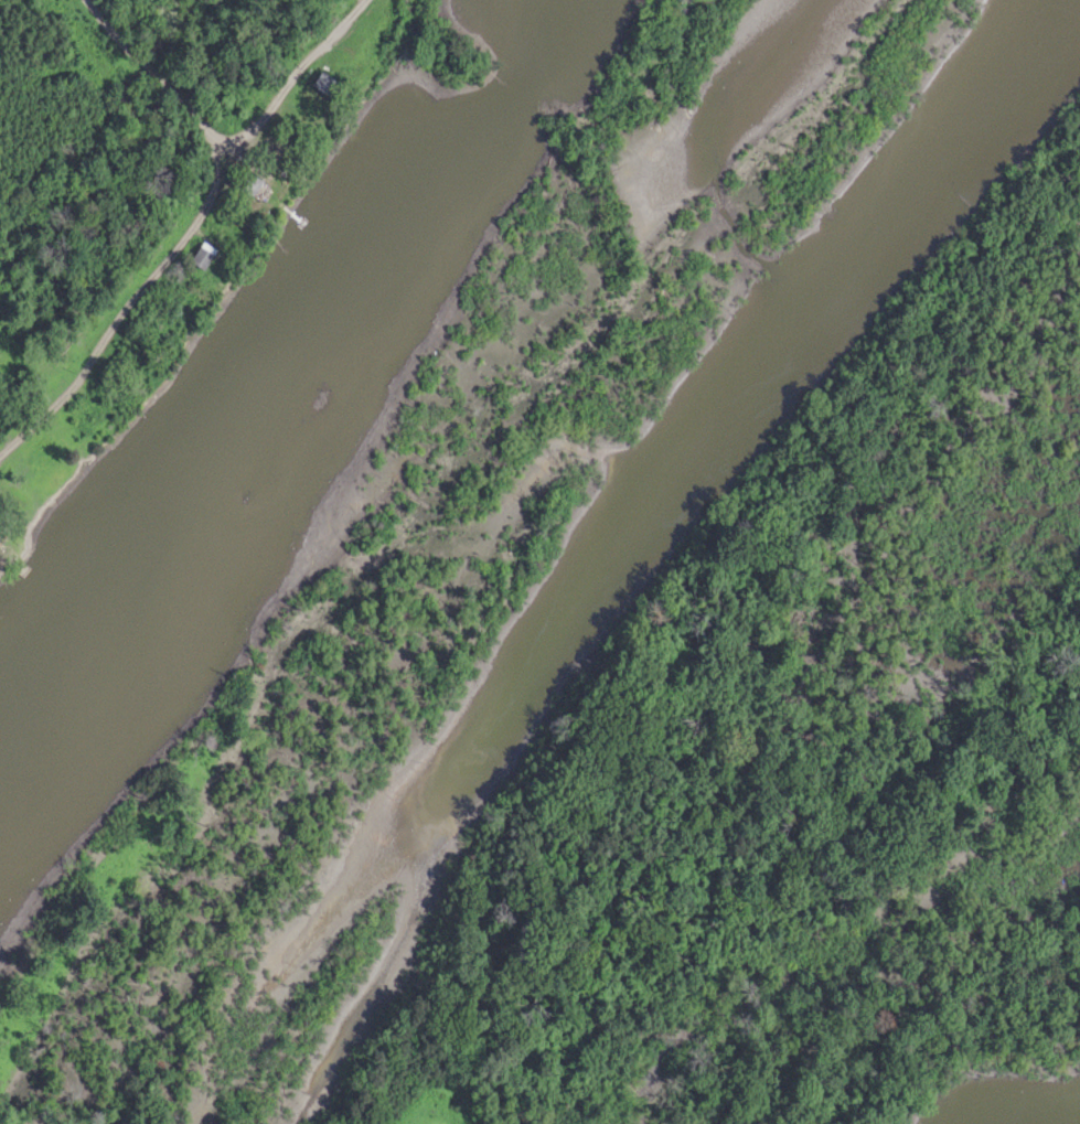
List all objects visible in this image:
road: (287, 75)
building: (323, 81)
road: (201, 121)
building: (247, 180)
building: (201, 254)
building: (0, 533)

